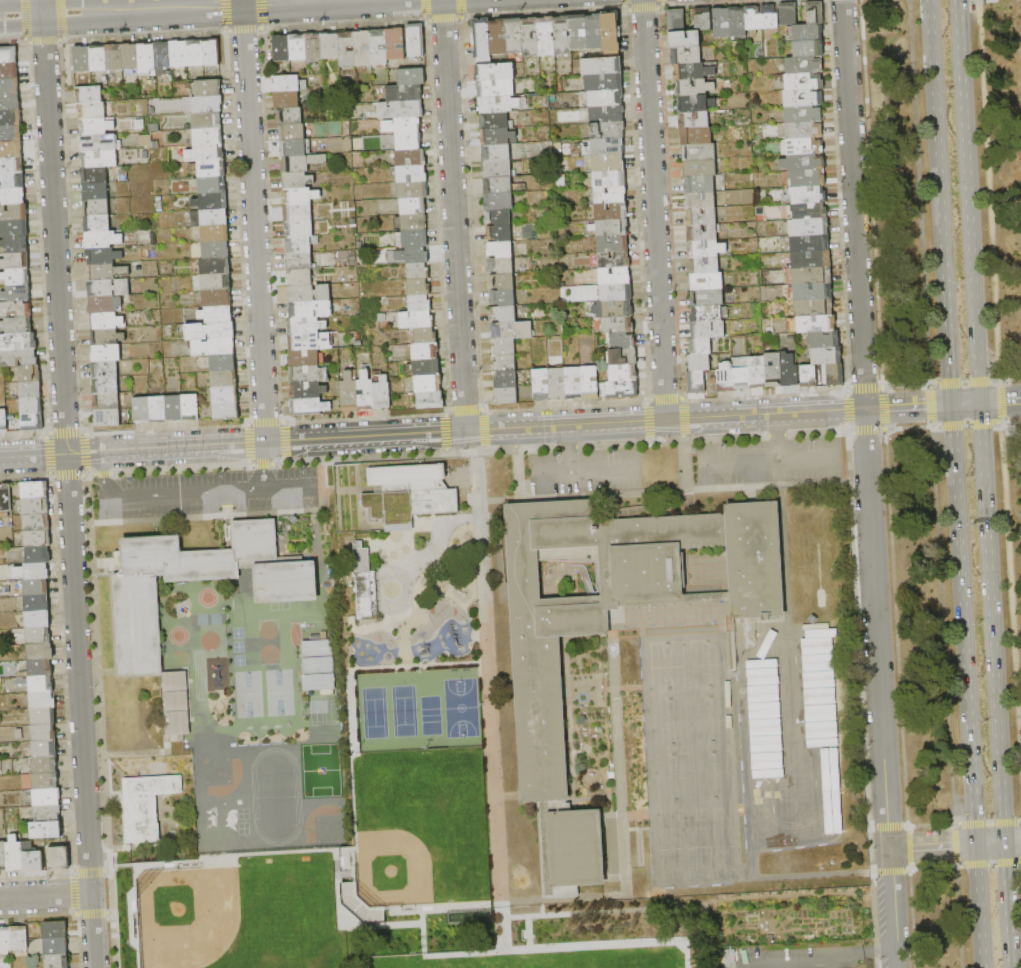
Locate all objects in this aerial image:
road: (41, 7)
road: (172, 7)
building: (815, 12)
building: (789, 14)
road: (21, 15)
building: (769, 17)
building: (753, 18)
building: (704, 19)
building: (677, 21)
building: (738, 21)
building: (721, 23)
building: (611, 31)
building: (578, 32)
building: (595, 32)
building: (808, 32)
building: (514, 36)
building: (547, 36)
building: (563, 36)
building: (498, 37)
building: (530, 37)
building: (482, 39)
building: (684, 39)
building: (416, 41)
building: (396, 44)
building: (331, 45)
building: (314, 46)
building: (298, 47)
building: (380, 47)
building: (282, 48)
building: (347, 49)
building: (363, 49)
building: (808, 49)
building: (212, 52)
building: (195, 53)
building: (179, 54)
building: (8, 55)
building: (686, 56)
building: (130, 57)
building: (162, 57)
building: (98, 58)
building: (114, 58)
building: (82, 59)
building: (146, 59)
building: (804, 65)
building: (602, 66)
building: (9, 71)
building: (495, 72)
building: (693, 72)
building: (411, 77)
building: (804, 82)
building: (604, 83)
building: (286, 84)
building: (9, 86)
building: (208, 88)
building: (495, 88)
building: (694, 88)
building: (405, 93)
building: (89, 94)
building: (606, 98)
building: (803, 98)
building: (286, 100)
building: (9, 102)
building: (695, 103)
building: (207, 104)
building: (499, 104)
building: (92, 110)
building: (400, 110)
building: (606, 114)
building: (802, 115)
building: (289, 116)
building: (10, 118)
building: (693, 120)
building: (207, 121)
building: (494, 121)
building: (403, 125)
building: (97, 126)
building: (607, 130)
building: (804, 131)
building: (292, 132)
building: (10, 134)
building: (696, 136)
building: (208, 137)
building: (497, 137)
building: (409, 141)
building: (100, 143)
building: (607, 147)
building: (803, 147)
building: (293, 148)
building: (11, 149)
building: (699, 152)
building: (206, 153)
building: (497, 154)
building: (411, 158)
building: (99, 159)
building: (301, 163)
building: (802, 163)
building: (608, 164)
building: (12, 165)
building: (212, 169)
building: (700, 169)
building: (497, 170)
building: (412, 174)
building: (94, 175)
building: (807, 178)
building: (297, 180)
building: (609, 180)
building: (12, 181)
building: (210, 185)
building: (498, 185)
building: (699, 185)
building: (413, 190)
road: (988, 190)
building: (95, 192)
road: (917, 192)
building: (808, 194)
building: (611, 195)
building: (12, 196)
building: (300, 196)
building: (499, 201)
building: (700, 201)
road: (968, 201)
building: (211, 202)
road: (939, 202)
building: (413, 207)
building: (96, 208)
road: (654, 210)
building: (611, 211)
building: (809, 211)
building: (13, 213)
building: (298, 213)
road: (454, 215)
building: (498, 217)
building: (701, 217)
building: (209, 218)
road: (253, 221)
building: (411, 223)
building: (97, 224)
building: (809, 227)
building: (612, 228)
building: (14, 229)
building: (299, 229)
road: (54, 233)
building: (499, 233)
building: (702, 233)
building: (215, 234)
building: (103, 239)
building: (412, 239)
building: (809, 243)
building: (612, 244)
building: (15, 245)
building: (301, 245)
building: (706, 249)
building: (216, 250)
building: (500, 250)
building: (410, 255)
building: (103, 256)
building: (811, 259)
building: (614, 260)
building: (16, 262)
building: (300, 262)
building: (704, 265)
building: (215, 266)
building: (501, 266)
building: (418, 271)
building: (106, 272)
building: (615, 276)
building: (812, 276)
building: (17, 277)
building: (300, 278)
building: (706, 281)
building: (502, 282)
building: (216, 283)
building: (419, 287)
building: (109, 288)
building: (616, 292)
building: (812, 292)
building: (309, 293)
building: (17, 294)
building: (503, 298)
building: (707, 298)
building: (217, 299)
building: (420, 303)
building: (105, 305)
building: (813, 307)
building: (15, 309)
building: (310, 309)
building: (616, 309)
building: (504, 314)
building: (706, 314)
building: (216, 315)
building: (417, 319)
building: (106, 321)
building: (817, 324)
building: (618, 325)
building: (17, 326)
building: (306, 326)
building: (512, 330)
building: (707, 330)
building: (210, 331)
building: (426, 335)
building: (107, 337)
building: (824, 340)
building: (621, 341)
building: (19, 342)
building: (310, 342)
building: (213, 347)
building: (503, 347)
building: (700, 347)
building: (425, 351)
building: (106, 353)
building: (826, 355)
building: (623, 357)
building: (19, 358)
building: (304, 359)
building: (223, 363)
building: (504, 363)
building: (699, 363)
building: (427, 368)
building: (105, 369)
building: (773, 370)
building: (789, 370)
building: (623, 373)
building: (757, 373)
building: (30, 374)
building: (835, 374)
building: (309, 375)
building: (809, 376)
building: (726, 378)
building: (224, 379)
building: (505, 379)
building: (742, 379)
building: (573, 383)
building: (590, 383)
building: (696, 383)
building: (428, 384)
building: (557, 384)
building: (541, 385)
building: (106, 386)
building: (623, 389)
building: (31, 390)
building: (307, 391)
building: (366, 392)
building: (350, 394)
building: (382, 394)
building: (225, 396)
building: (506, 396)
building: (430, 400)
building: (106, 402)
road: (1000, 402)
traffic signals: (980, 403)
road: (965, 404)
traffic signals: (951, 405)
building: (31, 406)
building: (309, 407)
building: (174, 408)
building: (190, 408)
building: (158, 409)
building: (142, 410)
building: (226, 412)
building: (107, 418)
building: (3, 420)
building: (32, 423)
road: (1001, 423)
road: (508, 429)
road: (779, 436)
road: (570, 446)
road: (33, 455)
park: (944, 455)
road: (768, 457)
road: (265, 458)
parking lot: (768, 460)
road: (104, 466)
road: (586, 466)
parking lot: (585, 471)
road: (870, 484)
building: (34, 490)
road: (291, 490)
parking lot: (208, 493)
building: (410, 494)
road: (185, 496)
building: (6, 498)
building: (36, 507)
building: (36, 523)
building: (37, 538)
building: (38, 555)
building: (37, 572)
building: (283, 581)
building: (365, 583)
building: (36, 588)
road: (1011, 594)
building: (609, 600)
building: (37, 603)
building: (38, 619)
road: (992, 622)
road: (962, 624)
road: (941, 625)
building: (132, 630)
building: (38, 636)
building: (314, 649)
building: (40, 652)
building: (315, 666)
building: (40, 668)
building: (315, 683)
building: (41, 685)
road: (487, 690)
building: (42, 701)
building: (177, 704)
road: (348, 706)
park: (459, 707)
park: (403, 710)
road: (81, 711)
park: (372, 711)
park: (429, 714)
building: (43, 717)
building: (44, 733)
building: (45, 749)
building: (44, 765)
building: (45, 782)
park: (403, 783)
building: (47, 798)
building: (144, 806)
building: (47, 814)
building: (46, 830)
road: (1012, 841)
traffic signals: (1004, 842)
road: (989, 843)
road: (952, 844)
traffic signals: (975, 844)
road: (932, 846)
building: (573, 847)
building: (14, 854)
road: (102, 855)
building: (3, 857)
building: (32, 858)
building: (59, 859)
road: (234, 859)
park: (393, 867)
road: (45, 895)
road: (792, 897)
building: (358, 904)
road: (1007, 904)
road: (439, 906)
road: (978, 906)
road: (595, 907)
park: (182, 912)
road: (129, 915)
road: (957, 917)
road: (353, 922)
building: (55, 929)
road: (529, 930)
road: (420, 931)
building: (19, 938)
building: (5, 941)
road: (597, 944)
building: (56, 946)
road: (502, 950)
road: (458, 953)
road: (684, 954)
building: (57, 961)
road: (818, 962)
park: (624, 963)
park: (536, 966)

